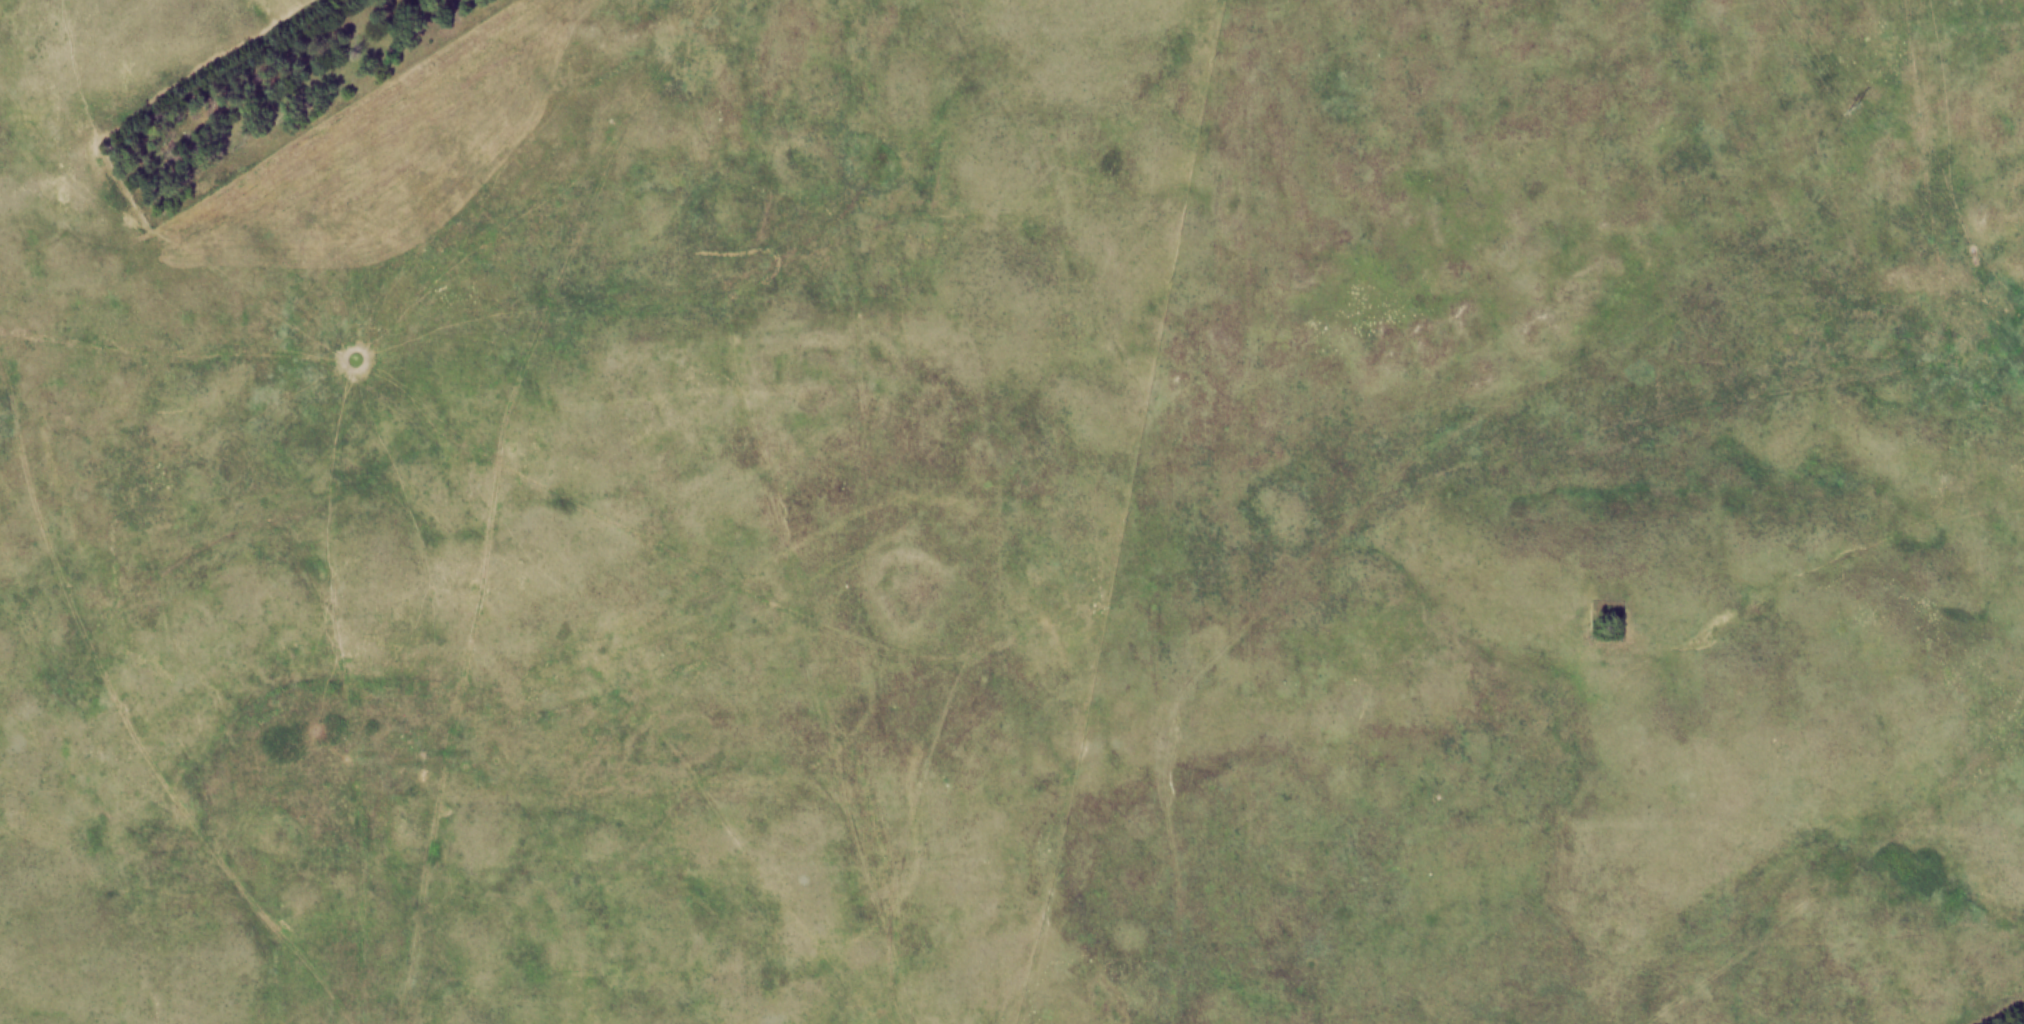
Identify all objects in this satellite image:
power tower: (1856, 107)

